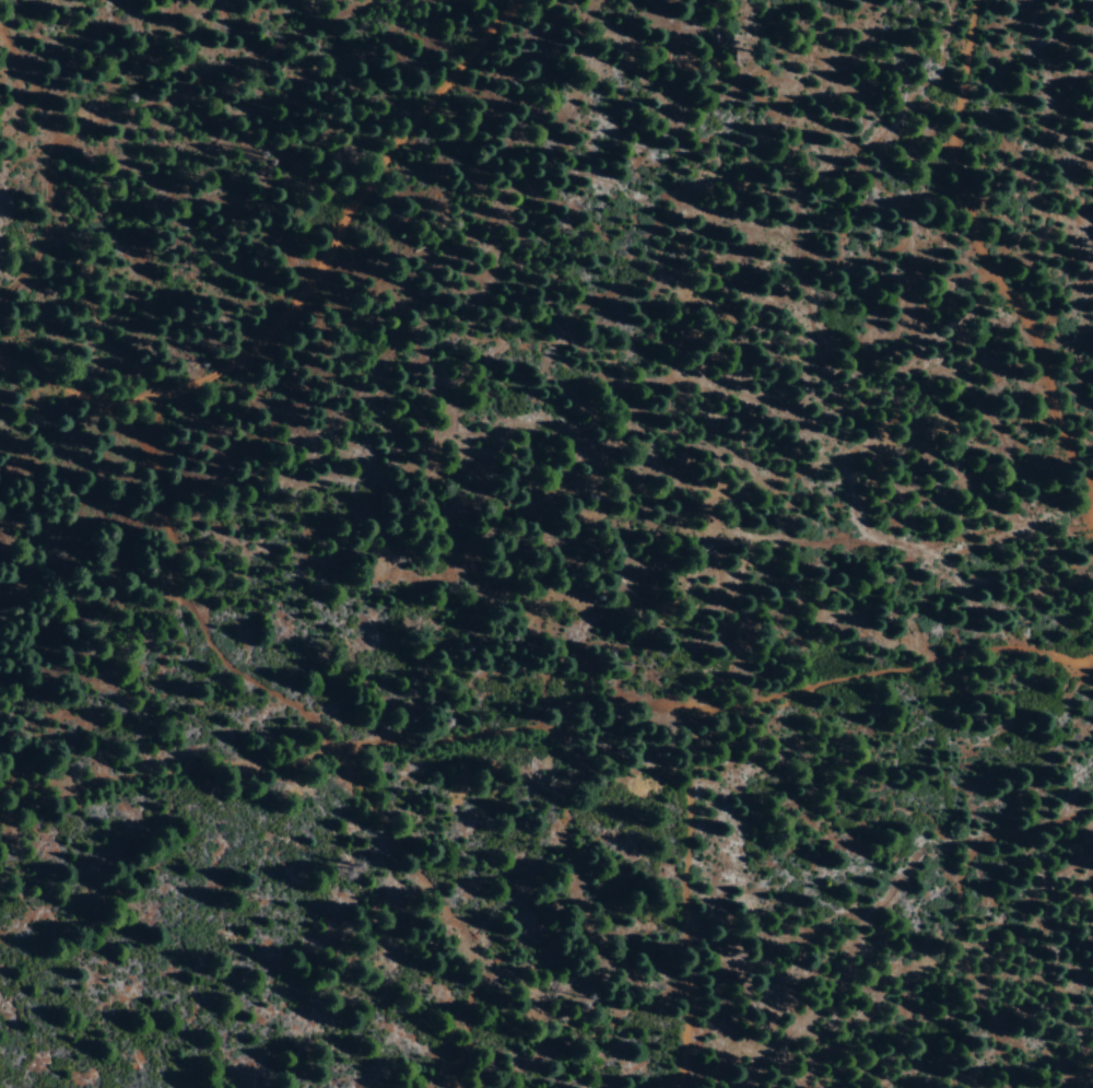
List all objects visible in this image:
road: (90, 257)
road: (339, 286)

